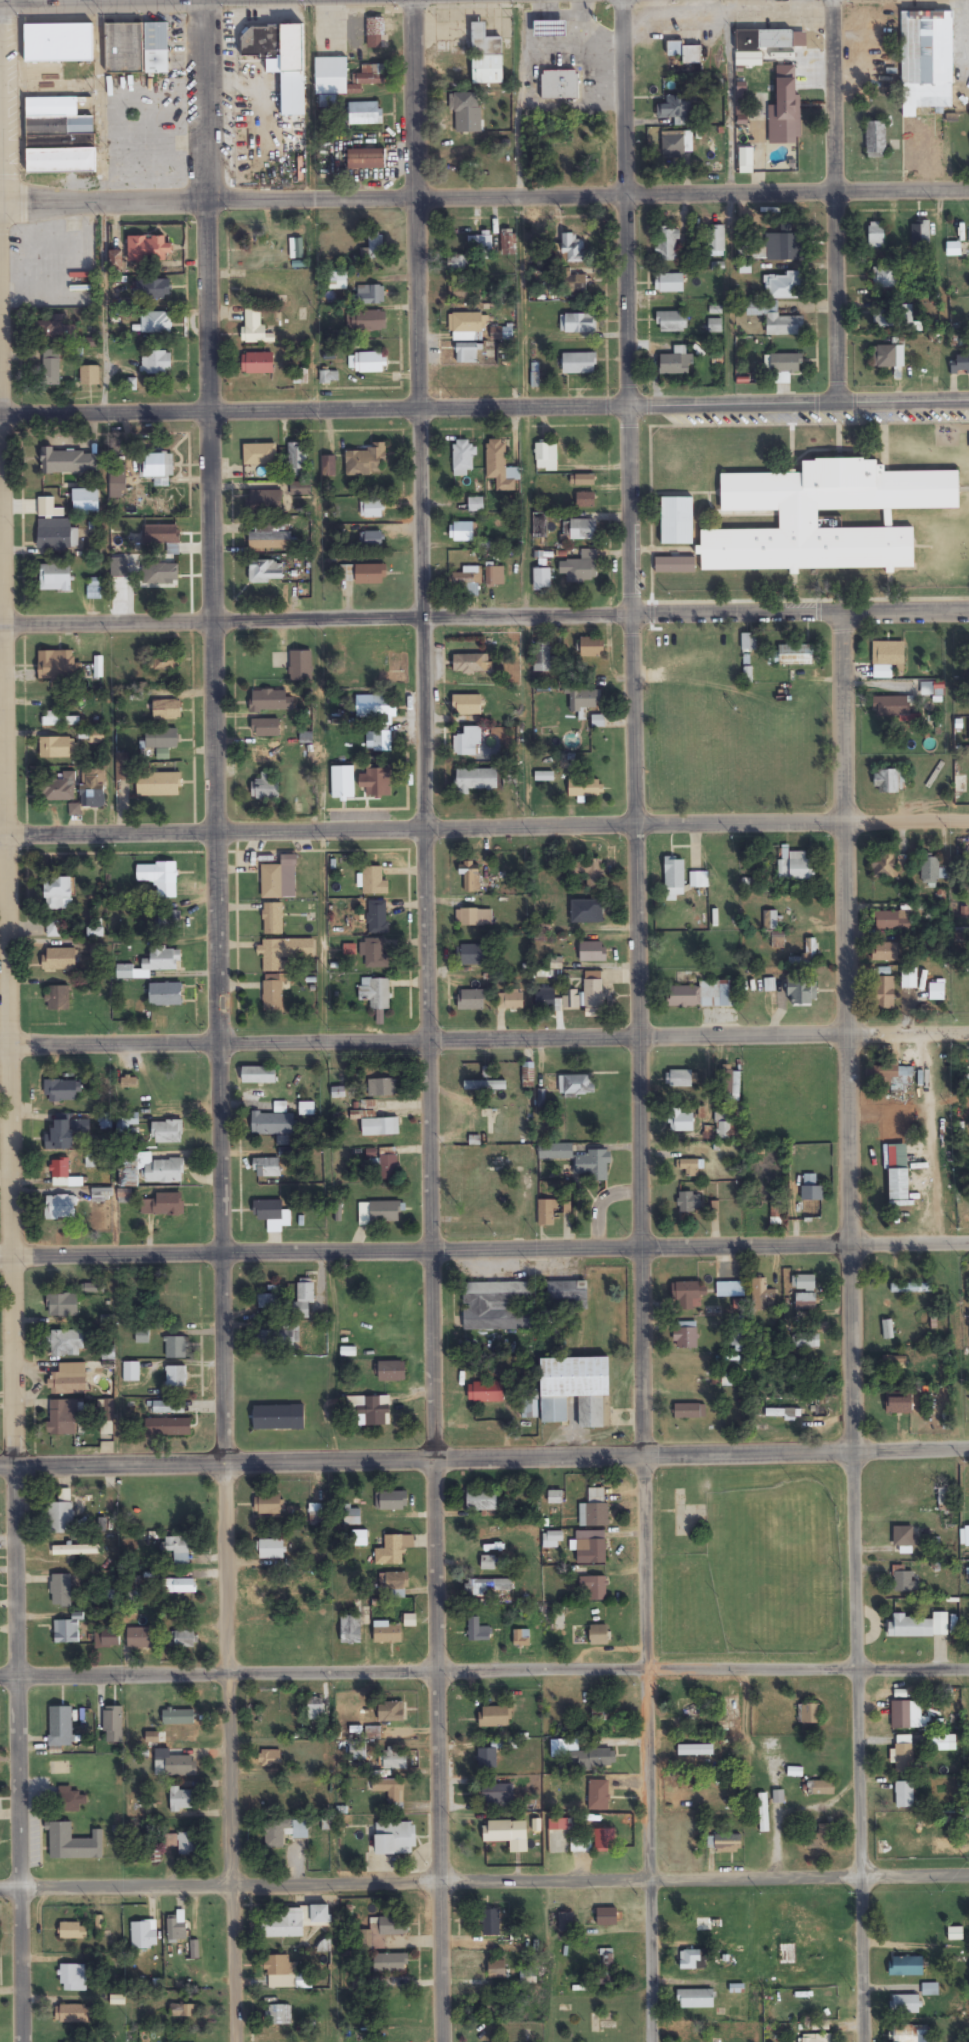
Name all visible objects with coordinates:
building: (550, 29)
building: (372, 32)
building: (764, 40)
building: (58, 42)
building: (134, 48)
building: (487, 53)
building: (686, 53)
building: (926, 58)
building: (280, 60)
building: (371, 74)
building: (330, 76)
building: (558, 85)
building: (463, 103)
building: (761, 106)
building: (677, 111)
building: (364, 114)
building: (787, 116)
building: (58, 132)
building: (875, 140)
building: (676, 144)
building: (366, 160)
road: (484, 195)
building: (919, 233)
building: (875, 236)
building: (716, 241)
building: (507, 243)
building: (787, 244)
building: (667, 245)
building: (376, 247)
building: (753, 247)
building: (147, 249)
building: (572, 249)
building: (953, 249)
building: (115, 255)
building: (458, 263)
building: (884, 275)
building: (338, 282)
building: (576, 284)
building: (669, 284)
building: (785, 287)
building: (152, 290)
building: (370, 296)
road: (315, 310)
building: (892, 317)
building: (776, 320)
building: (368, 322)
building: (671, 322)
building: (466, 323)
building: (156, 324)
building: (580, 324)
building: (715, 326)
building: (255, 328)
building: (54, 330)
building: (466, 354)
building: (888, 357)
building: (156, 363)
building: (258, 364)
building: (370, 364)
building: (579, 364)
building: (959, 364)
building: (51, 368)
building: (784, 368)
building: (510, 372)
building: (535, 375)
building: (89, 376)
building: (465, 378)
road: (484, 406)
road: (523, 413)
building: (259, 456)
building: (463, 458)
building: (546, 458)
building: (296, 460)
building: (69, 462)
building: (367, 462)
building: (158, 468)
building: (328, 468)
building: (500, 468)
building: (299, 490)
building: (85, 501)
building: (585, 501)
building: (265, 503)
building: (476, 505)
building: (50, 506)
building: (371, 510)
building: (798, 520)
building: (677, 522)
building: (539, 527)
building: (580, 530)
building: (465, 532)
building: (162, 535)
building: (57, 538)
building: (371, 541)
building: (270, 542)
building: (674, 565)
building: (581, 569)
building: (265, 572)
building: (161, 574)
building: (345, 574)
building: (371, 575)
building: (494, 576)
building: (55, 578)
building: (541, 580)
building: (466, 584)
building: (94, 588)
road: (484, 617)
building: (592, 647)
building: (793, 656)
building: (541, 657)
building: (887, 659)
building: (164, 663)
building: (471, 664)
building: (300, 665)
building: (58, 666)
building: (932, 689)
building: (584, 700)
building: (268, 701)
building: (375, 706)
building: (469, 706)
building: (891, 708)
building: (167, 710)
building: (58, 720)
building: (266, 728)
building: (97, 737)
building: (162, 739)
building: (378, 741)
building: (467, 743)
building: (57, 747)
building: (266, 754)
building: (476, 780)
building: (886, 781)
building: (342, 782)
building: (376, 782)
building: (159, 785)
building: (61, 788)
building: (93, 788)
building: (266, 788)
building: (584, 788)
road: (484, 827)
road: (320, 829)
building: (795, 865)
building: (883, 865)
building: (930, 870)
building: (587, 871)
building: (471, 877)
building: (159, 878)
building: (674, 878)
building: (279, 879)
building: (698, 880)
building: (374, 882)
building: (58, 893)
building: (587, 912)
building: (377, 917)
building: (473, 918)
building: (272, 919)
building: (770, 919)
building: (169, 921)
building: (891, 921)
building: (53, 929)
building: (95, 931)
building: (592, 952)
building: (887, 952)
building: (283, 953)
building: (374, 953)
building: (807, 953)
building: (472, 955)
building: (59, 959)
building: (163, 959)
building: (909, 979)
building: (594, 990)
building: (801, 992)
building: (936, 992)
building: (375, 993)
building: (884, 993)
building: (165, 994)
building: (272, 995)
building: (703, 995)
building: (58, 998)
building: (545, 998)
building: (470, 1000)
building: (514, 1001)
road: (222, 1020)
road: (426, 1020)
road: (639, 1020)
road: (846, 1020)
road: (484, 1036)
building: (528, 1074)
building: (259, 1075)
building: (680, 1079)
building: (484, 1085)
building: (576, 1085)
building: (382, 1088)
building: (60, 1090)
building: (904, 1092)
road: (8, 1119)
building: (126, 1121)
building: (105, 1122)
building: (680, 1122)
building: (273, 1124)
building: (380, 1127)
building: (724, 1127)
building: (166, 1132)
building: (65, 1133)
building: (555, 1152)
building: (388, 1164)
building: (592, 1166)
building: (266, 1168)
building: (690, 1168)
building: (149, 1169)
building: (63, 1175)
building: (898, 1185)
building: (101, 1195)
building: (124, 1196)
building: (687, 1203)
building: (163, 1205)
building: (60, 1208)
building: (776, 1208)
building: (812, 1208)
building: (381, 1213)
building: (547, 1214)
road: (331, 1248)
road: (484, 1249)
building: (804, 1283)
building: (911, 1288)
building: (729, 1290)
building: (567, 1295)
building: (688, 1296)
building: (761, 1296)
building: (303, 1299)
building: (805, 1301)
building: (266, 1302)
building: (62, 1305)
building: (496, 1306)
building: (887, 1329)
building: (142, 1336)
building: (685, 1336)
building: (286, 1339)
building: (808, 1340)
building: (67, 1343)
building: (175, 1348)
building: (131, 1372)
building: (389, 1372)
building: (176, 1378)
building: (68, 1380)
building: (574, 1390)
building: (486, 1392)
building: (899, 1404)
building: (168, 1407)
building: (371, 1410)
building: (529, 1410)
building: (689, 1411)
building: (783, 1413)
building: (62, 1417)
building: (278, 1418)
building: (168, 1427)
road: (484, 1456)
building: (481, 1500)
building: (392, 1501)
building: (269, 1505)
building: (594, 1509)
building: (60, 1514)
building: (316, 1514)
building: (353, 1517)
building: (966, 1536)
building: (904, 1538)
building: (590, 1548)
building: (271, 1549)
building: (76, 1550)
building: (178, 1550)
building: (393, 1550)
park: (750, 1562)
building: (487, 1563)
building: (905, 1580)
building: (396, 1581)
building: (178, 1586)
building: (488, 1587)
building: (594, 1587)
building: (61, 1590)
building: (409, 1621)
building: (919, 1626)
building: (350, 1630)
building: (477, 1631)
building: (66, 1632)
building: (387, 1633)
building: (598, 1635)
building: (106, 1638)
building: (521, 1638)
building: (140, 1639)
building: (184, 1640)
road: (484, 1673)
building: (316, 1709)
building: (391, 1712)
building: (809, 1714)
building: (902, 1715)
building: (178, 1717)
building: (494, 1717)
building: (113, 1725)
building: (61, 1727)
building: (373, 1733)
building: (943, 1742)
building: (357, 1752)
building: (903, 1753)
building: (270, 1759)
building: (486, 1759)
building: (590, 1759)
building: (394, 1760)
building: (174, 1764)
building: (820, 1788)
building: (390, 1790)
building: (496, 1793)
building: (598, 1795)
building: (904, 1795)
building: (183, 1800)
building: (763, 1813)
building: (283, 1832)
building: (498, 1832)
building: (908, 1832)
building: (558, 1835)
building: (820, 1838)
building: (395, 1839)
building: (605, 1840)
building: (171, 1841)
building: (73, 1844)
building: (186, 1844)
building: (580, 1844)
building: (728, 1844)
road: (484, 1879)
building: (607, 1917)
building: (294, 1921)
building: (491, 1923)
building: (565, 1923)
building: (704, 1924)
building: (389, 1927)
building: (174, 1930)
building: (73, 1931)
building: (955, 1934)
building: (143, 1935)
building: (779, 1942)
building: (801, 1957)
building: (692, 1960)
building: (390, 1964)
building: (279, 1966)
building: (607, 1967)
building: (905, 1967)
building: (497, 1970)
building: (73, 1978)
building: (528, 1979)
building: (303, 1983)
building: (930, 1989)
building: (695, 1999)
building: (905, 2004)
building: (183, 2011)
building: (74, 2014)
building: (278, 2015)
building: (910, 2034)
building: (817, 2038)
building: (691, 2041)

